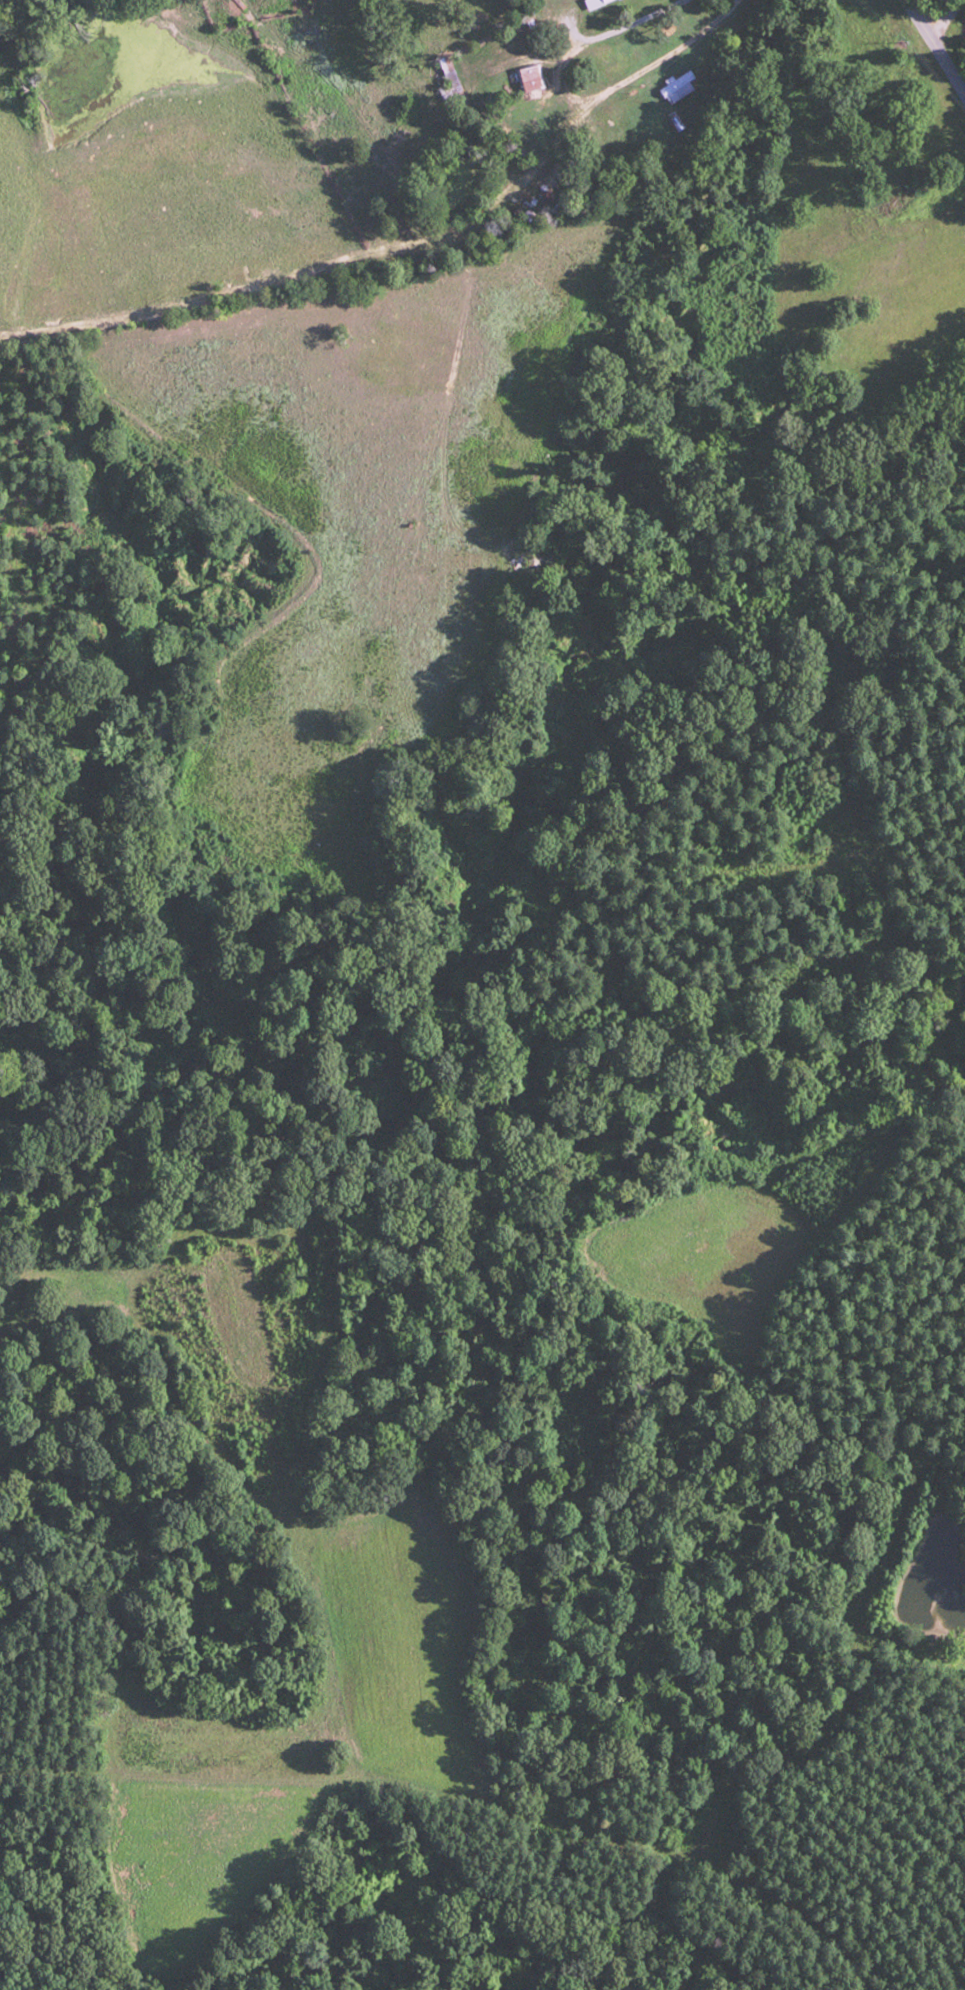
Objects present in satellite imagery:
building: (595, 3)
road: (943, 47)
building: (448, 76)
building: (528, 80)
road: (497, 179)

